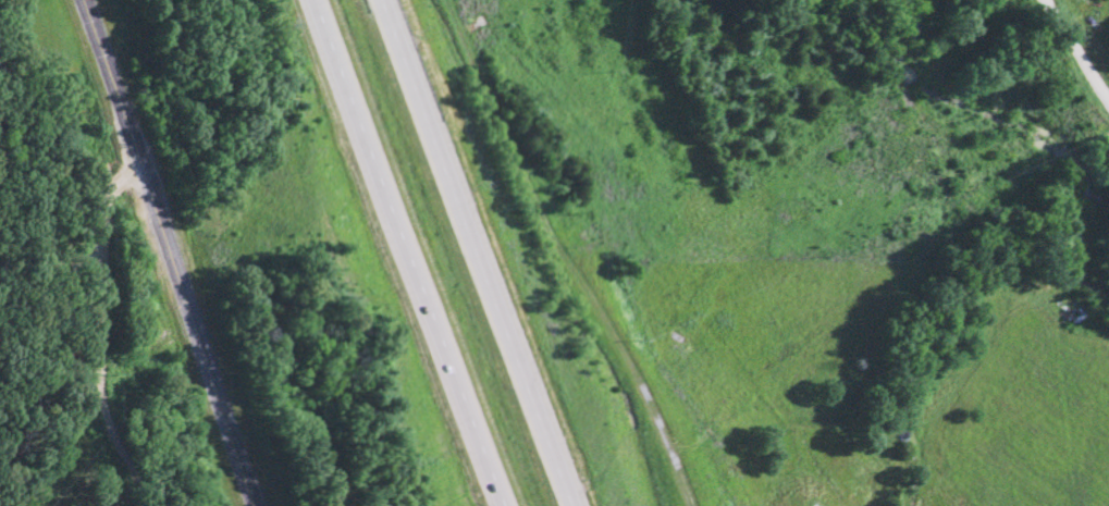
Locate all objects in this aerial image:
road: (1074, 51)
road: (406, 251)
road: (171, 252)
road: (473, 252)
road: (96, 326)
road: (668, 457)
building: (814, 505)

